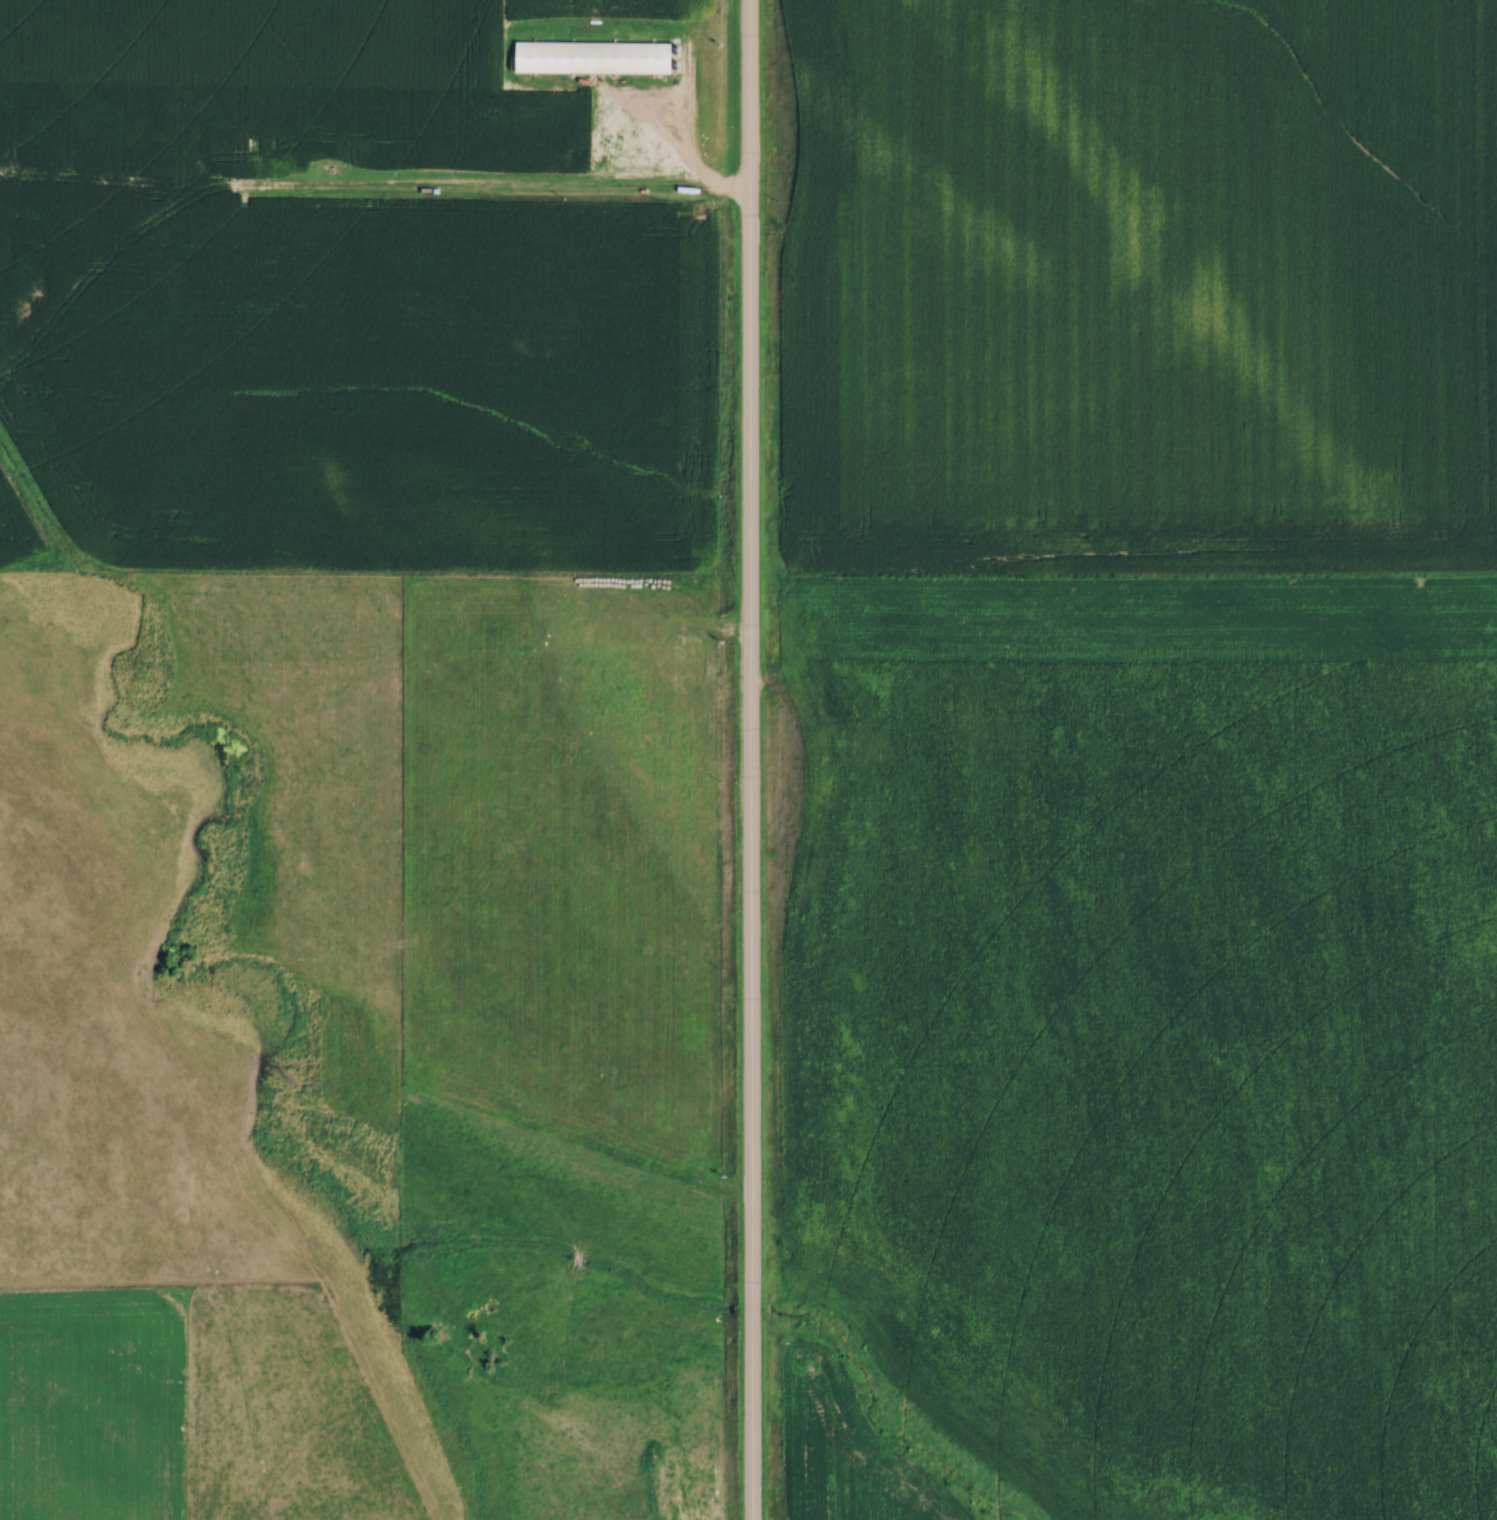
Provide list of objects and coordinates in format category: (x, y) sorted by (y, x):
building: (594, 57)
building: (197, 112)
building: (67, 136)
road: (750, 760)
crop: (843, 1455)

